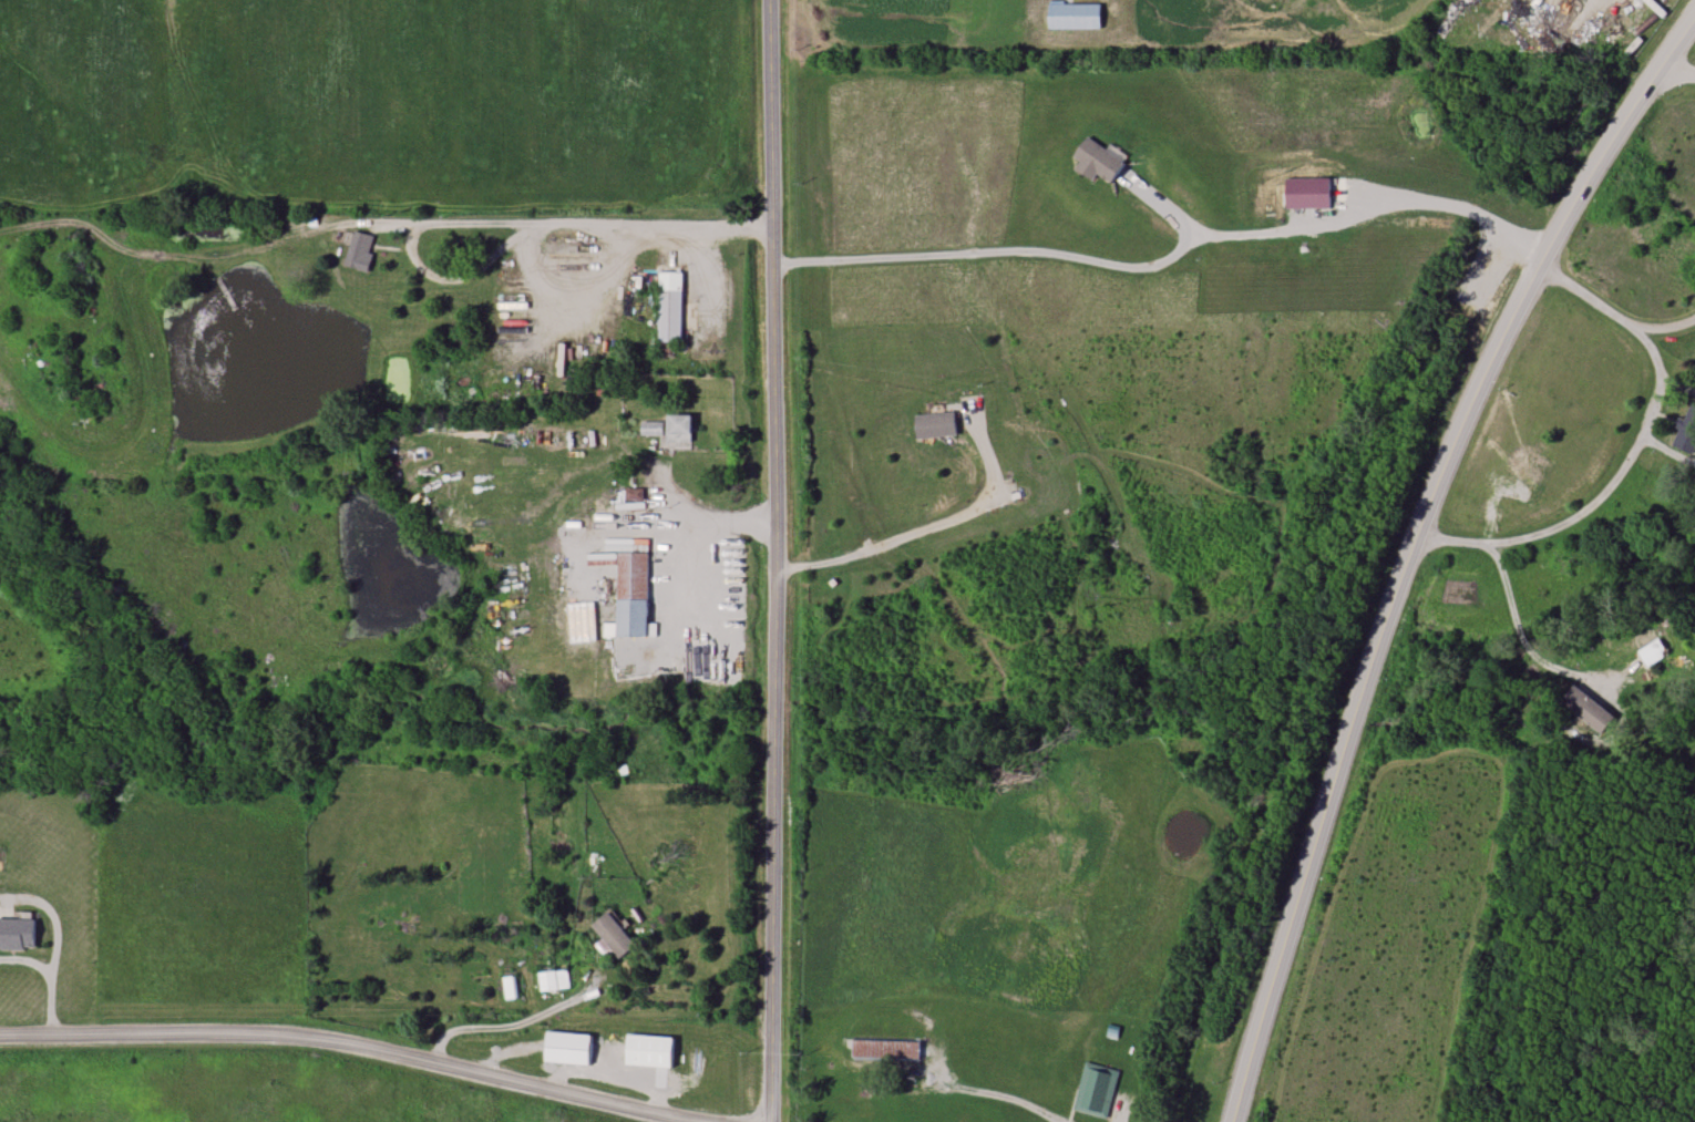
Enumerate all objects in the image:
road: (1676, 73)
building: (1097, 163)
building: (1307, 194)
road: (553, 222)
building: (358, 250)
road: (1168, 255)
building: (669, 307)
road: (1613, 312)
road: (1677, 387)
building: (935, 425)
building: (651, 429)
building: (678, 429)
building: (1687, 433)
road: (1665, 452)
road: (1599, 500)
road: (706, 513)
road: (925, 528)
road: (1411, 547)
road: (775, 560)
building: (634, 593)
road: (1512, 639)
building: (18, 935)
building: (614, 935)
road: (58, 943)
building: (553, 980)
building: (511, 988)
road: (520, 1029)
road: (347, 1043)
building: (886, 1050)
building: (650, 1051)
building: (1096, 1090)
road: (985, 1100)

